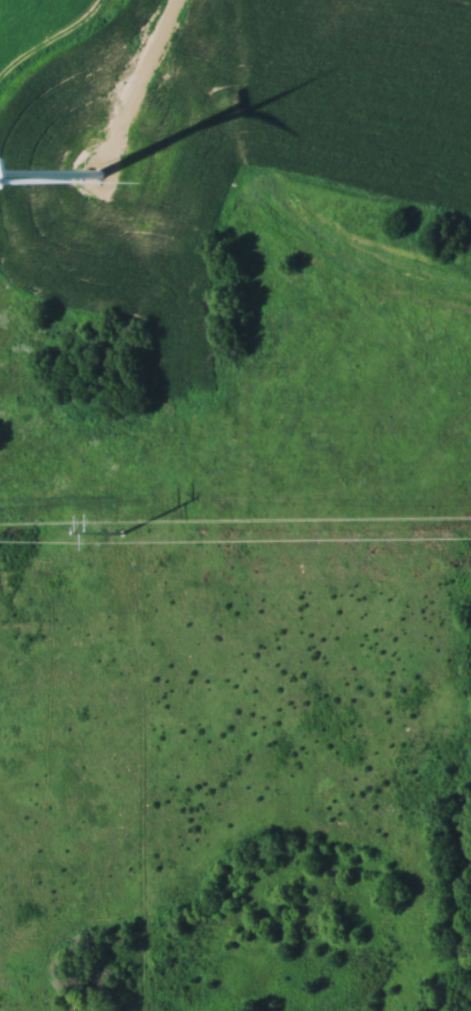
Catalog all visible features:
wind turbine: (99, 173)
power tower: (121, 532)

